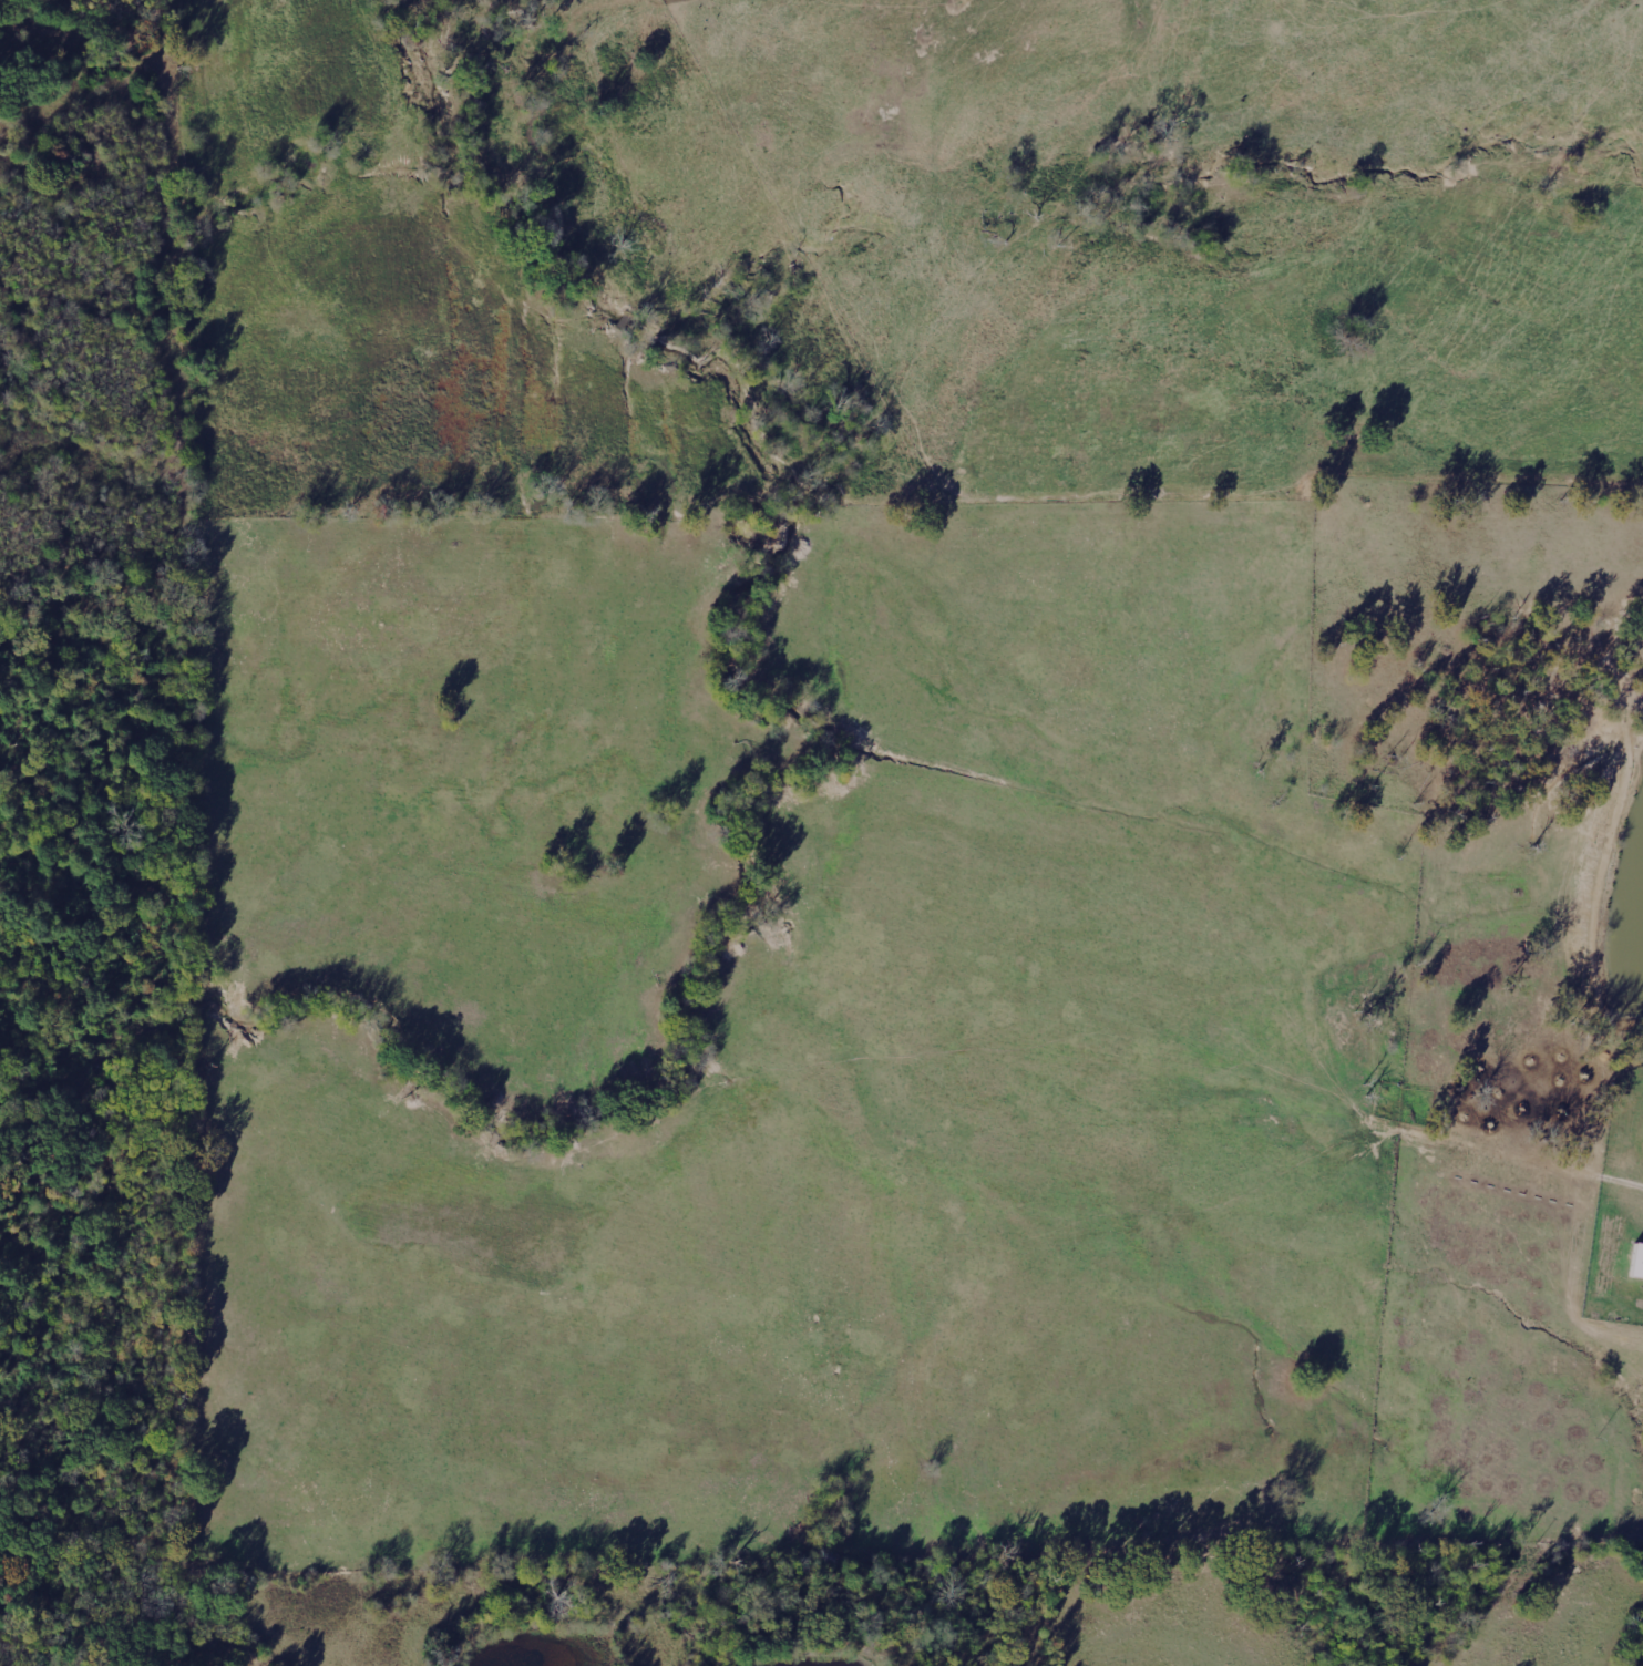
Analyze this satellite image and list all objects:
building: (1635, 1262)

